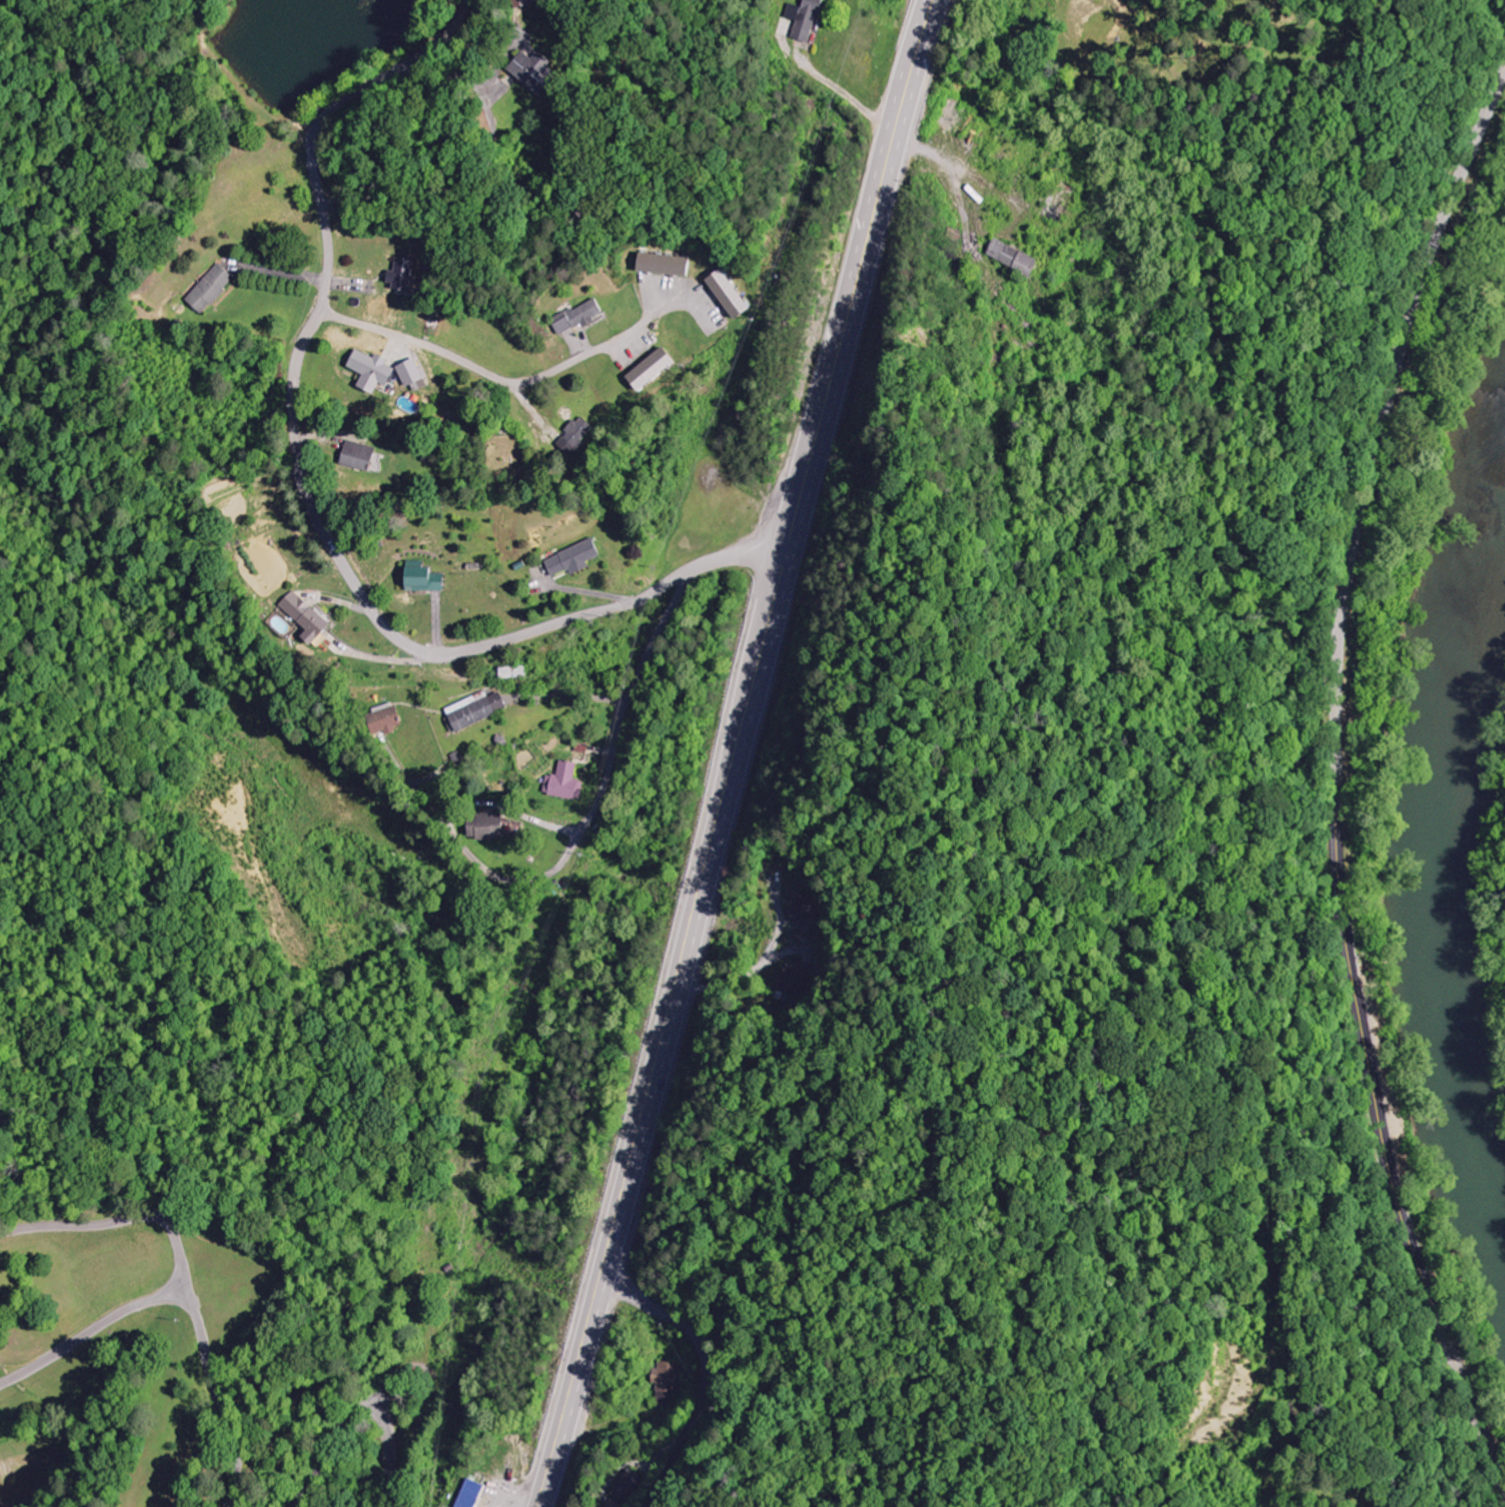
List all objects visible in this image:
building: (806, 21)
building: (538, 71)
road: (458, 81)
road: (491, 149)
road: (681, 166)
road: (408, 197)
building: (1015, 259)
building: (668, 265)
building: (404, 275)
building: (213, 289)
building: (732, 294)
building: (579, 317)
building: (657, 369)
building: (374, 371)
building: (415, 375)
road: (517, 382)
road: (344, 429)
building: (578, 435)
road: (299, 449)
building: (360, 456)
road: (740, 551)
building: (575, 559)
building: (428, 580)
building: (311, 618)
building: (514, 672)
building: (479, 711)
building: (390, 719)
road: (734, 753)
road: (532, 759)
road: (1337, 779)
building: (567, 783)
road: (601, 799)
building: (494, 827)
road: (451, 850)
river: (1451, 883)
building: (805, 908)
building: (798, 981)
road: (186, 1283)
road: (90, 1329)
road: (706, 1369)
building: (667, 1384)
road: (363, 1409)
building: (629, 1486)
building: (474, 1494)

